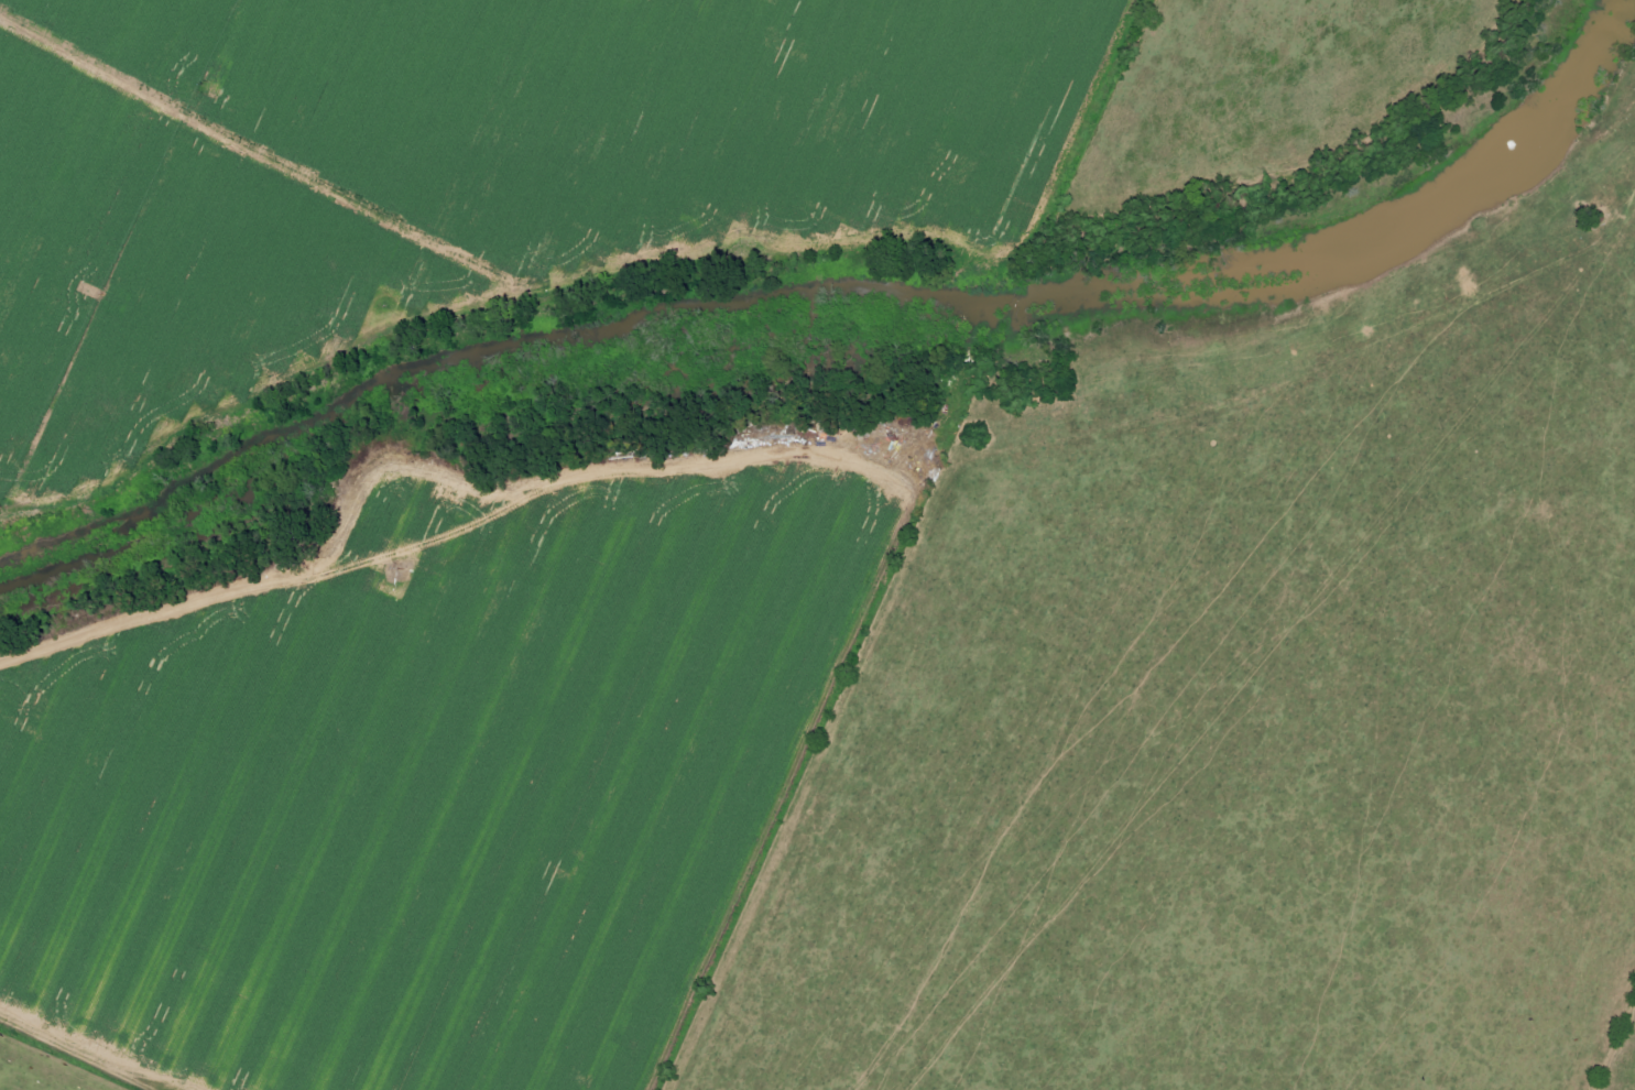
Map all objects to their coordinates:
road: (1341, 352)

